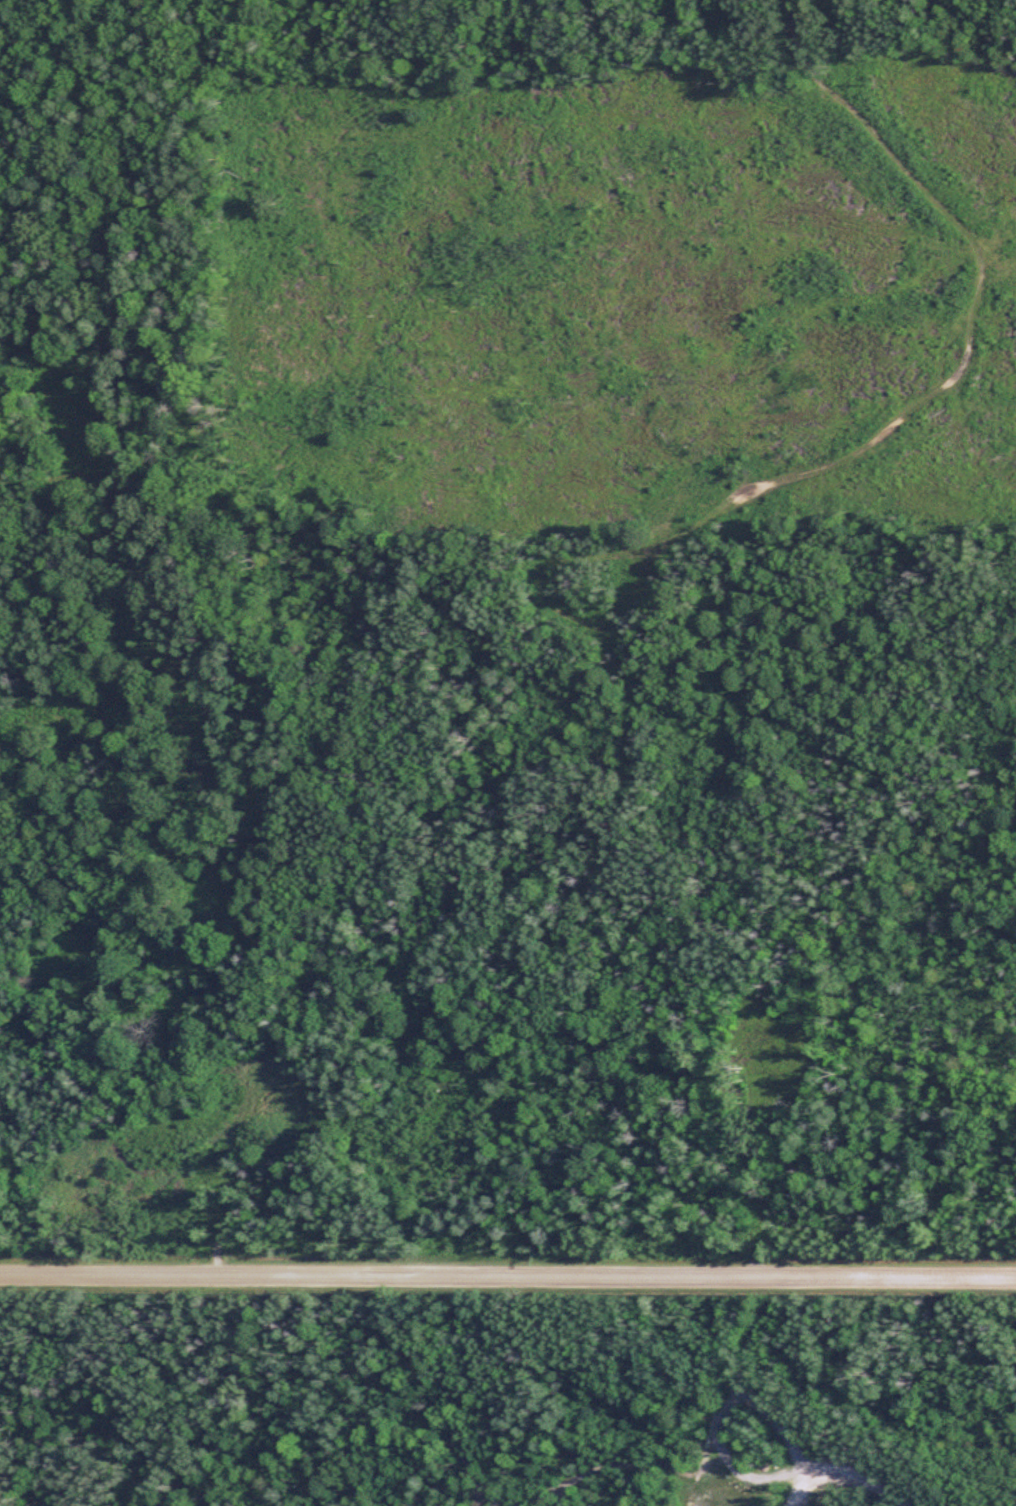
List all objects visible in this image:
road: (508, 1280)
road: (847, 1480)

